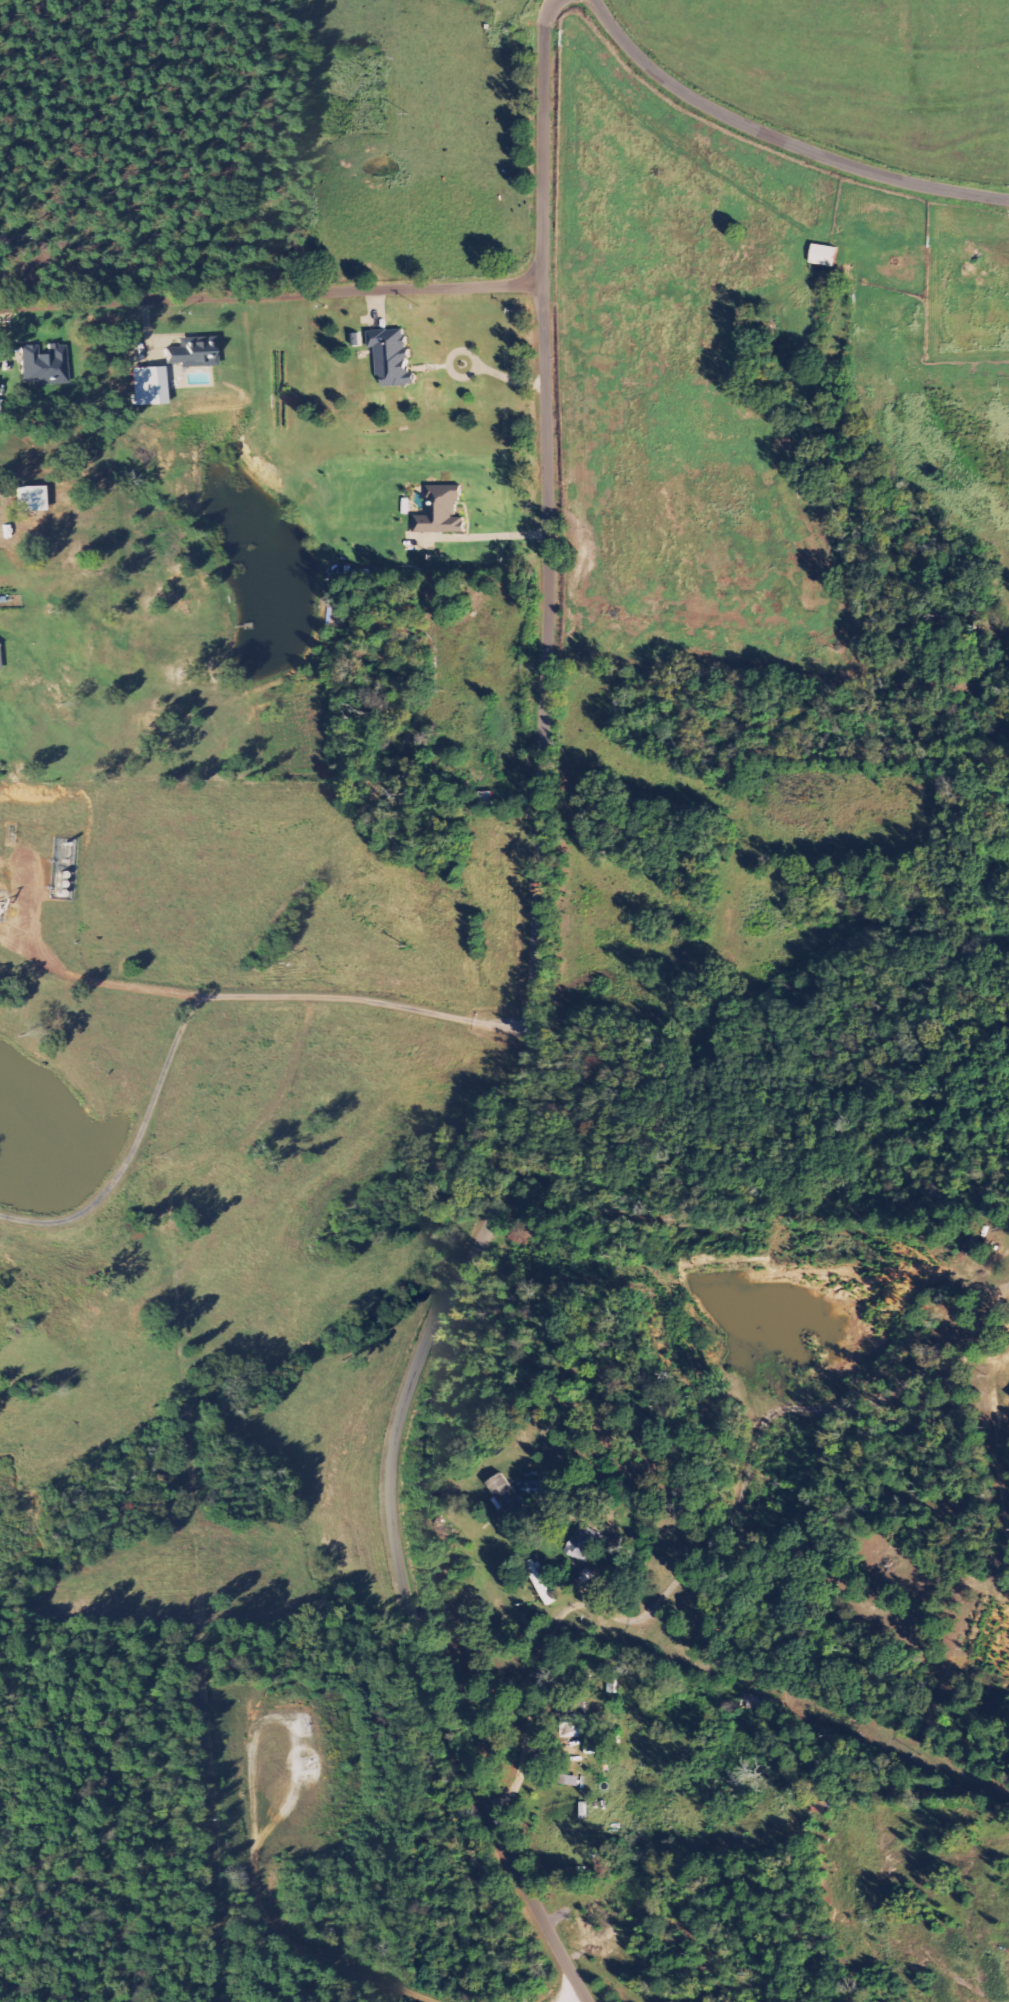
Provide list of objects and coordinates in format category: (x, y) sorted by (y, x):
road: (779, 140)
building: (826, 254)
road: (271, 293)
building: (195, 354)
building: (394, 355)
building: (45, 364)
building: (148, 386)
building: (32, 499)
building: (443, 511)
building: (0, 666)
road: (237, 998)
road: (526, 1034)
road: (133, 1151)
building: (537, 1488)
building: (557, 1494)
building: (511, 1497)
road: (710, 1540)
building: (587, 1545)
building: (755, 1701)
building: (573, 1714)

